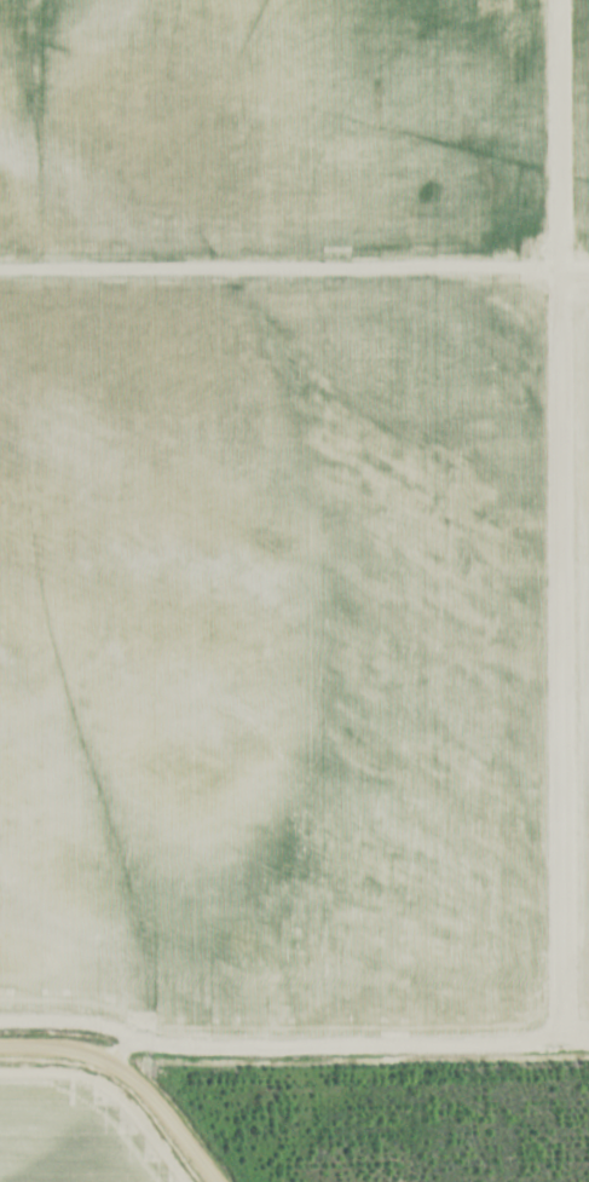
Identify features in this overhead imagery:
road: (128, 1076)

